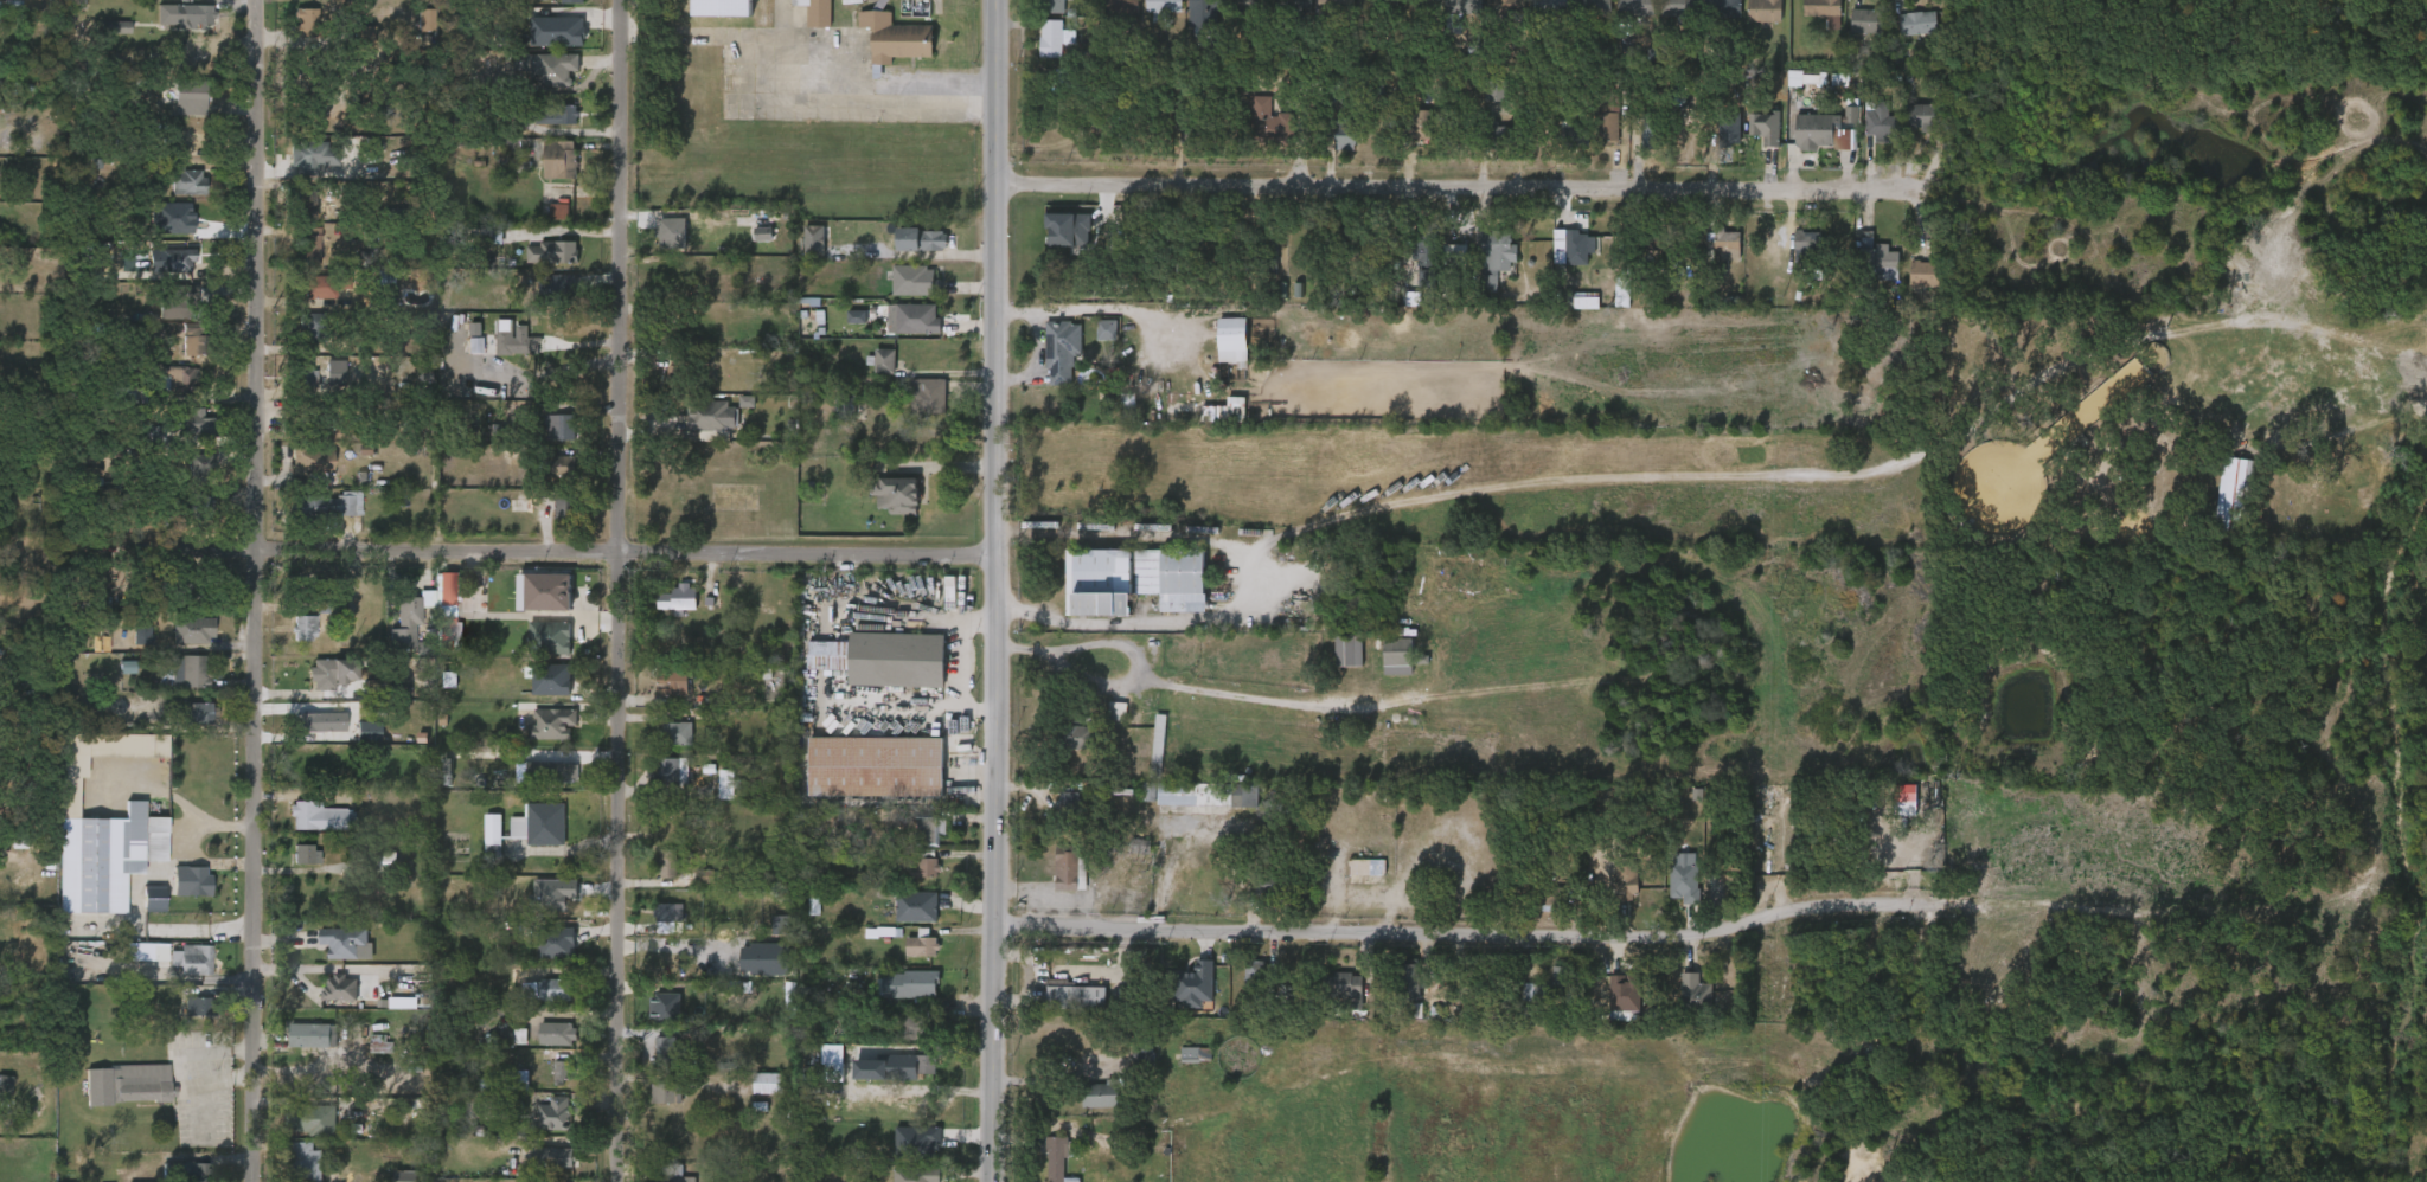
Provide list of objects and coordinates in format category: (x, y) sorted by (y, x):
building: (571, 0)
building: (148, 1)
building: (182, 1)
building: (1249, 5)
building: (1051, 6)
building: (1120, 6)
building: (1163, 6)
building: (1460, 6)
building: (1510, 6)
building: (1551, 6)
building: (1593, 7)
building: (1637, 7)
building: (1680, 7)
building: (1723, 7)
building: (557, 8)
building: (1763, 9)
building: (1824, 9)
building: (1203, 12)
building: (819, 13)
building: (184, 14)
building: (1230, 15)
building: (1352, 15)
building: (1146, 17)
building: (1282, 17)
building: (1319, 17)
building: (1447, 17)
building: (1533, 17)
building: (1104, 18)
building: (1490, 18)
building: (1576, 19)
building: (1620, 19)
building: (1661, 19)
building: (1869, 19)
building: (1706, 20)
building: (1916, 21)
building: (1748, 23)
building: (1807, 24)
building: (114, 26)
building: (1186, 26)
building: (168, 30)
building: (802, 31)
building: (410, 34)
building: (1850, 36)
building: (894, 37)
building: (1050, 38)
building: (1900, 38)
building: (292, 40)
building: (98, 41)
building: (540, 46)
building: (348, 50)
building: (879, 52)
building: (1038, 53)
building: (555, 69)
building: (531, 83)
building: (1498, 89)
road: (846, 95)
building: (190, 97)
building: (1479, 109)
building: (174, 113)
building: (1851, 114)
building: (1606, 116)
building: (1920, 117)
building: (1878, 118)
building: (1268, 121)
building: (1422, 124)
building: (1765, 126)
building: (1729, 127)
building: (1652, 128)
building: (1834, 129)
building: (540, 130)
building: (1813, 130)
building: (1904, 131)
building: (1345, 133)
building: (1498, 135)
building: (1575, 135)
building: (1592, 135)
building: (1251, 136)
building: (1862, 136)
building: (1404, 140)
building: (1712, 141)
building: (1749, 142)
building: (1797, 144)
building: (1480, 146)
building: (1633, 147)
building: (1327, 149)
building: (1558, 149)
building: (1830, 154)
building: (313, 156)
building: (561, 160)
building: (299, 173)
building: (544, 174)
building: (186, 181)
road: (1452, 186)
building: (172, 197)
building: (289, 221)
building: (543, 226)
building: (670, 229)
building: (918, 239)
building: (1052, 244)
building: (1725, 244)
building: (1808, 245)
building: (657, 246)
building: (1570, 248)
building: (747, 249)
building: (551, 252)
building: (1423, 253)
building: (798, 255)
building: (905, 255)
building: (1494, 257)
building: (293, 258)
building: (1789, 258)
building: (1638, 259)
building: (1710, 261)
building: (1555, 262)
building: (1877, 262)
building: (537, 268)
building: (1479, 274)
building: (1921, 274)
building: (154, 275)
building: (1409, 275)
building: (1862, 276)
building: (914, 280)
building: (322, 287)
building: (1907, 289)
building: (185, 295)
building: (898, 295)
building: (540, 300)
building: (309, 302)
building: (1606, 307)
building: (168, 311)
building: (914, 319)
building: (313, 329)
building: (840, 332)
building: (896, 334)
building: (1229, 338)
building: (294, 340)
building: (512, 341)
building: (1090, 345)
building: (1059, 349)
building: (1216, 355)
building: (507, 356)
building: (177, 360)
building: (883, 360)
building: (1045, 364)
building: (869, 375)
building: (288, 387)
building: (319, 387)
building: (658, 387)
building: (164, 394)
building: (927, 396)
building: (1139, 405)
building: (1183, 405)
building: (911, 411)
building: (719, 415)
building: (1127, 422)
building: (193, 426)
building: (558, 428)
building: (696, 431)
building: (152, 435)
building: (179, 438)
building: (543, 442)
building: (135, 448)
building: (564, 468)
building: (296, 475)
building: (184, 478)
building: (547, 481)
building: (895, 495)
building: (325, 505)
building: (2215, 505)
building: (190, 507)
building: (880, 509)
building: (566, 512)
building: (187, 518)
building: (313, 520)
building: (549, 523)
road: (536, 552)
building: (1458, 573)
building: (1129, 580)
building: (449, 587)
building: (1443, 589)
road: (263, 590)
road: (619, 591)
road: (995, 591)
building: (549, 592)
building: (532, 606)
building: (662, 614)
building: (405, 624)
building: (302, 628)
building: (191, 630)
building: (433, 630)
building: (393, 632)
building: (549, 636)
road: (1121, 641)
building: (289, 642)
building: (177, 644)
building: (126, 649)
building: (533, 651)
building: (1394, 651)
building: (883, 659)
building: (1332, 664)
building: (812, 669)
building: (188, 670)
building: (1381, 670)
building: (334, 673)
building: (673, 681)
building: (173, 686)
building: (315, 687)
building: (434, 694)
building: (534, 694)
building: (657, 699)
building: (1115, 711)
building: (198, 712)
building: (549, 721)
building: (319, 722)
building: (1101, 726)
building: (182, 728)
building: (674, 733)
building: (303, 735)
building: (536, 738)
building: (1074, 738)
building: (1155, 744)
building: (352, 745)
building: (662, 747)
building: (1059, 751)
building: (1142, 754)
building: (875, 766)
building: (551, 771)
building: (667, 771)
building: (725, 783)
building: (531, 785)
building: (657, 785)
building: (431, 791)
building: (1198, 794)
building: (710, 798)
building: (1068, 805)
building: (1132, 805)
building: (1889, 807)
building: (1192, 809)
building: (319, 815)
building: (1052, 816)
building: (540, 823)
building: (927, 829)
building: (307, 831)
building: (525, 839)
building: (914, 843)
building: (476, 849)
building: (302, 854)
building: (105, 857)
building: (667, 862)
building: (923, 868)
building: (1364, 868)
building: (290, 869)
building: (1065, 869)
building: (652, 878)
building: (191, 880)
building: (908, 881)
building: (1350, 881)
building: (1625, 881)
building: (1686, 882)
building: (1054, 884)
building: (175, 895)
building: (1609, 895)
building: (1667, 897)
building: (137, 912)
building: (664, 917)
building: (798, 920)
building: (901, 920)
road: (1459, 931)
building: (764, 939)
building: (346, 943)
building: (921, 945)
building: (331, 957)
building: (540, 957)
building: (769, 958)
building: (905, 961)
building: (143, 966)
building: (756, 971)
building: (1253, 972)
building: (177, 974)
building: (912, 982)
building: (1404, 982)
building: (1238, 985)
building: (339, 987)
building: (1344, 989)
building: (553, 990)
building: (1618, 990)
building: (1530, 991)
building: (1544, 993)
building: (1693, 993)
building: (1076, 996)
building: (1394, 996)
building: (894, 998)
building: (1178, 998)
building: (664, 1002)
building: (324, 1003)
building: (1328, 1003)
building: (531, 1004)
building: (1511, 1006)
building: (1678, 1006)
building: (1058, 1009)
building: (1607, 1013)
building: (648, 1017)
building: (180, 1020)
building: (922, 1026)
building: (557, 1034)
building: (312, 1035)
building: (898, 1041)
building: (542, 1048)
building: (297, 1049)
building: (1189, 1053)
building: (365, 1060)
building: (651, 1062)
building: (921, 1062)
building: (1127, 1068)
building: (1174, 1069)
building: (562, 1071)
building: (516, 1079)
building: (768, 1081)
building: (878, 1081)
building: (128, 1085)
building: (546, 1086)
building: (665, 1092)
building: (751, 1097)
building: (651, 1107)
building: (1086, 1109)
building: (553, 1113)
building: (314, 1119)
building: (539, 1129)
building: (299, 1136)
building: (555, 1157)
building: (1055, 1158)
building: (305, 1163)
building: (1039, 1165)
building: (290, 1169)
building: (197, 1171)
building: (537, 1171)
building: (916, 1174)
building: (175, 1178)
building: (668, 1178)
building: (885, 1181)

